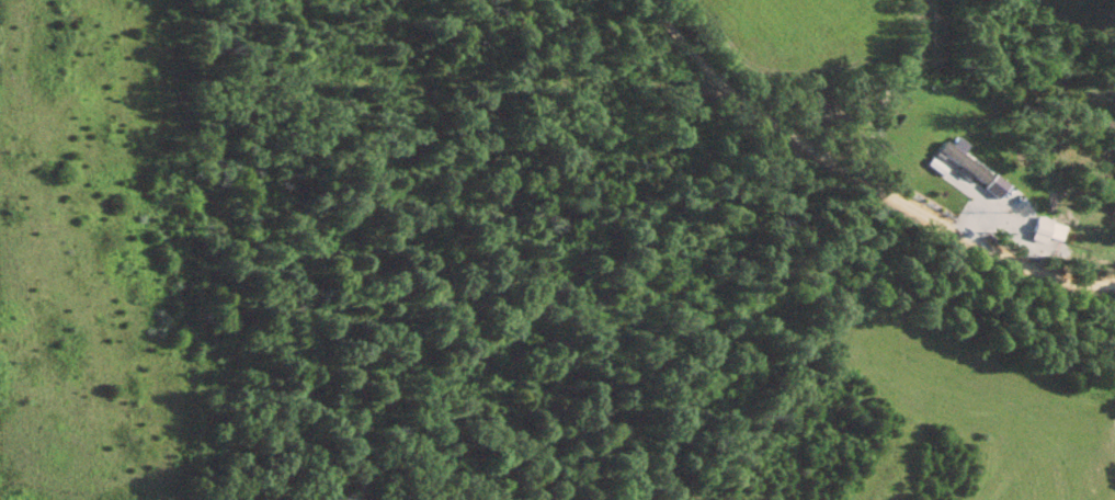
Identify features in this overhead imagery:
road: (865, 174)

